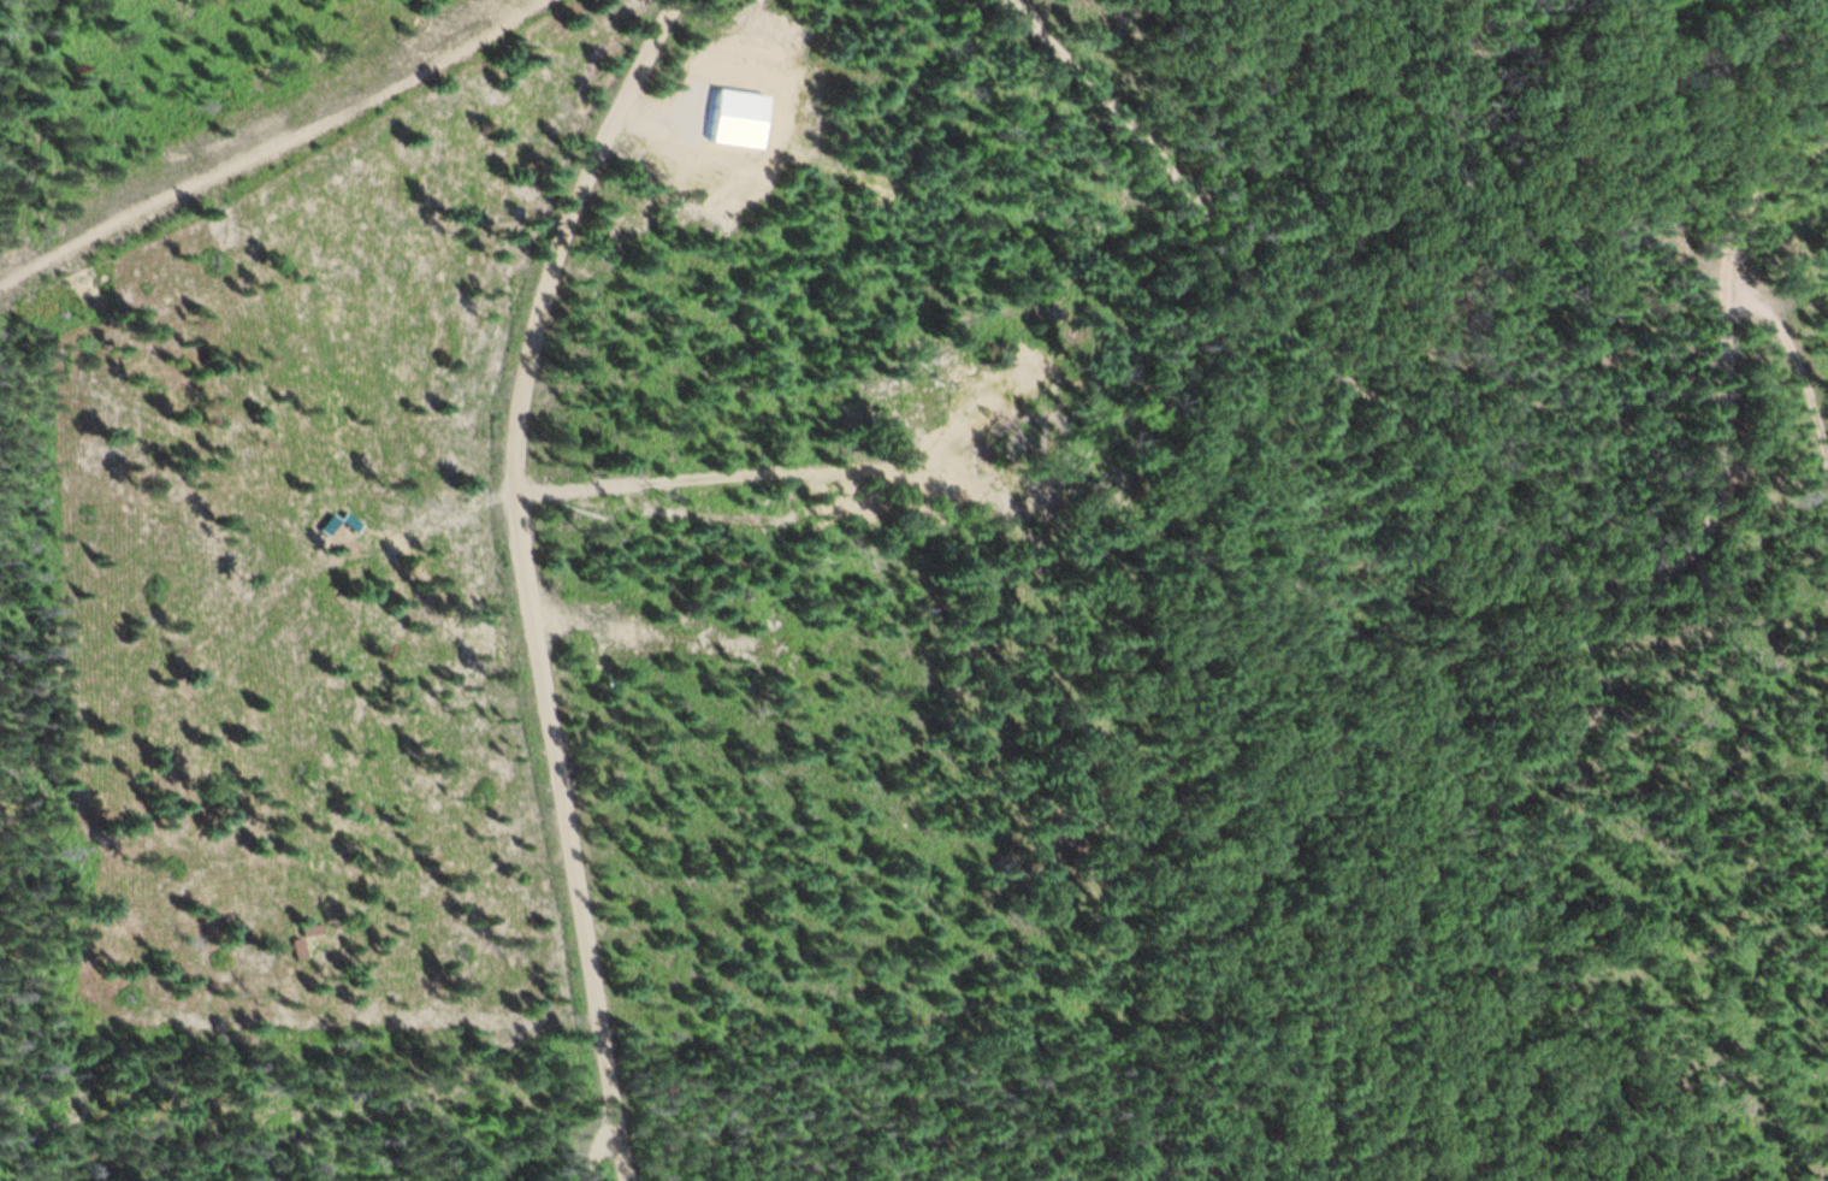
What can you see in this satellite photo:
road: (1669, 153)
road: (1798, 373)
road: (1485, 518)
road: (531, 578)
road: (597, 1150)

